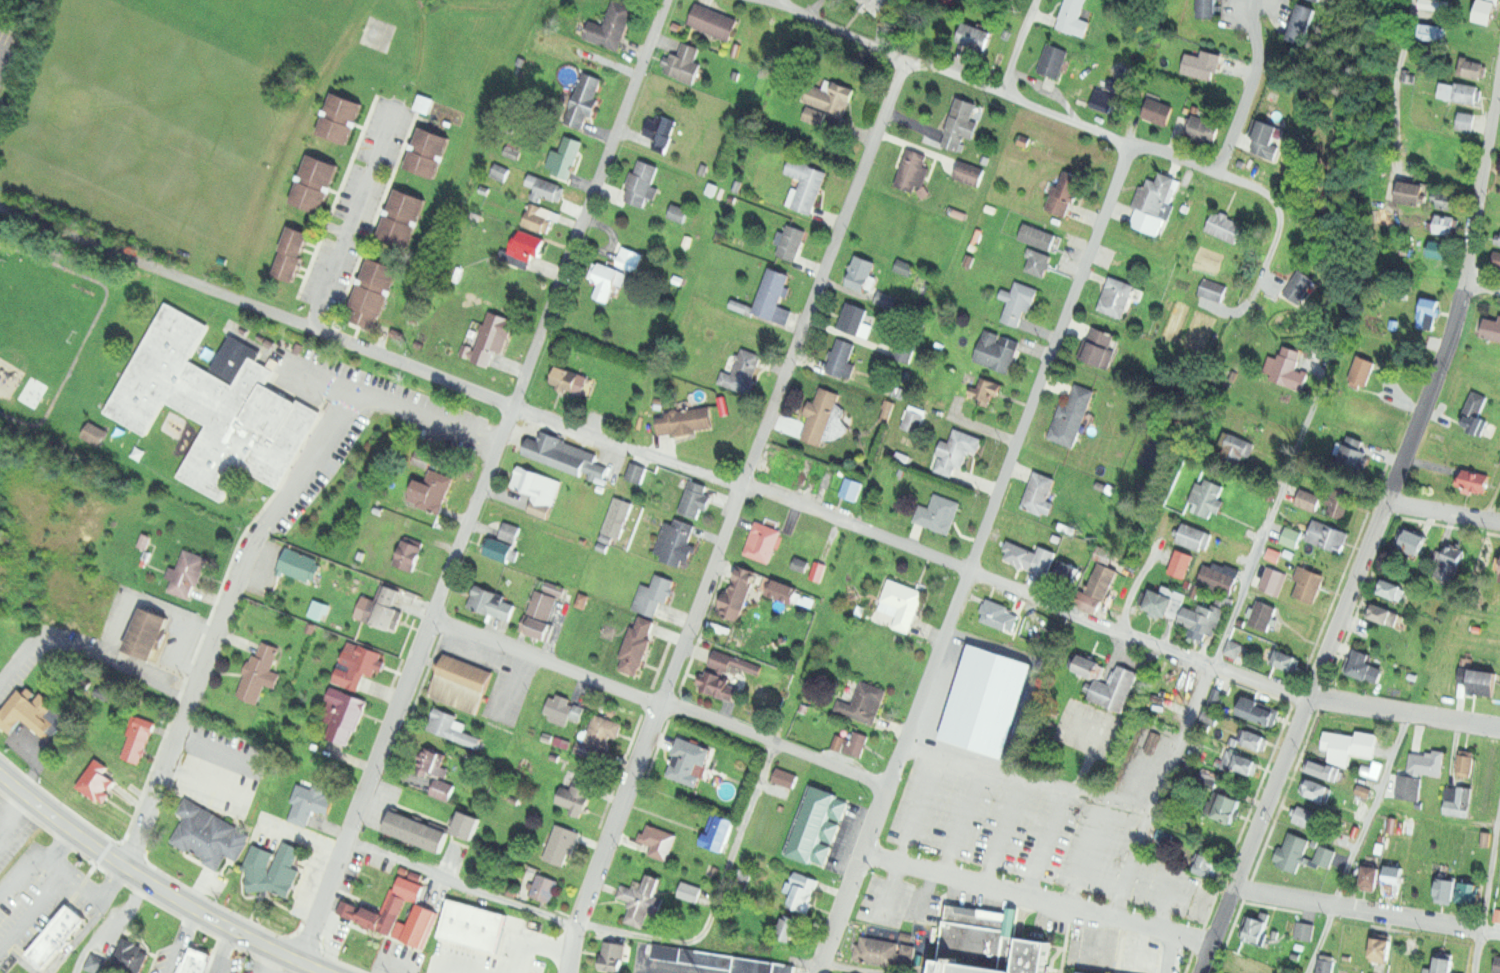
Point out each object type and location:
building: (1321, 0)
building: (1002, 1)
building: (1434, 4)
building: (876, 5)
building: (1207, 8)
building: (1486, 10)
building: (1073, 17)
building: (714, 19)
building: (1304, 23)
building: (610, 24)
building: (1430, 30)
building: (976, 35)
road: (1016, 46)
road: (2, 47)
parking lot: (6, 49)
building: (1052, 60)
building: (684, 63)
building: (1203, 66)
building: (1470, 67)
road: (1393, 77)
building: (1464, 91)
road: (1248, 94)
building: (830, 96)
building: (1102, 98)
building: (583, 99)
road: (1024, 102)
building: (424, 105)
building: (1159, 110)
building: (815, 114)
building: (340, 118)
building: (1464, 120)
building: (960, 122)
building: (1207, 128)
building: (661, 130)
building: (1267, 138)
building: (427, 153)
building: (566, 157)
building: (910, 170)
building: (968, 172)
building: (805, 182)
building: (642, 183)
building: (315, 185)
building: (543, 186)
building: (1410, 191)
building: (1065, 193)
building: (1445, 200)
building: (1155, 201)
building: (569, 209)
building: (677, 212)
road: (352, 216)
building: (536, 217)
building: (402, 219)
building: (1444, 224)
building: (1227, 227)
building: (1037, 235)
building: (1498, 239)
building: (791, 242)
building: (526, 247)
building: (1439, 247)
building: (291, 254)
building: (629, 258)
building: (1496, 259)
building: (801, 261)
building: (1037, 262)
building: (905, 267)
building: (861, 272)
building: (606, 280)
road: (1483, 287)
building: (1300, 288)
building: (1213, 289)
building: (772, 295)
building: (373, 296)
building: (1116, 296)
building: (885, 298)
building: (1017, 300)
road: (256, 306)
building: (1429, 311)
building: (854, 318)
building: (1491, 328)
building: (493, 335)
building: (1103, 347)
building: (996, 350)
building: (1315, 351)
building: (841, 357)
building: (1361, 366)
building: (1287, 369)
building: (741, 372)
building: (569, 378)
building: (984, 389)
building: (211, 401)
road: (389, 401)
building: (1472, 407)
building: (885, 411)
building: (818, 415)
building: (1073, 416)
building: (912, 418)
road: (1203, 419)
building: (683, 420)
building: (97, 435)
road: (628, 445)
building: (1236, 446)
building: (956, 450)
building: (558, 453)
building: (1353, 457)
building: (423, 458)
building: (635, 471)
building: (1471, 480)
road: (484, 482)
building: (849, 487)
building: (536, 488)
building: (431, 491)
building: (1038, 492)
building: (1206, 497)
building: (1309, 499)
road: (1492, 500)
building: (1341, 501)
building: (693, 502)
road: (1443, 512)
building: (938, 513)
road: (731, 514)
building: (617, 516)
road: (1266, 523)
road: (1377, 526)
building: (509, 531)
building: (1327, 535)
building: (1192, 536)
building: (1292, 536)
building: (673, 540)
building: (762, 540)
building: (1414, 540)
building: (497, 549)
building: (409, 555)
building: (1021, 555)
building: (1273, 555)
road: (972, 558)
building: (1448, 560)
building: (1181, 562)
building: (302, 564)
building: (799, 564)
road: (951, 564)
building: (340, 568)
building: (1067, 573)
building: (187, 574)
building: (1218, 577)
building: (1102, 578)
building: (1273, 580)
building: (1309, 582)
building: (555, 587)
building: (1392, 588)
building: (783, 590)
building: (652, 594)
building: (738, 594)
building: (581, 600)
building: (491, 602)
building: (903, 602)
building: (1159, 602)
building: (385, 606)
building: (319, 610)
building: (1386, 613)
building: (1263, 614)
building: (539, 615)
building: (996, 615)
road: (221, 618)
building: (1199, 620)
building: (148, 633)
building: (637, 645)
building: (1234, 649)
road: (90, 655)
building: (720, 659)
building: (1289, 659)
road: (544, 662)
building: (356, 664)
building: (1360, 664)
building: (746, 665)
building: (1087, 666)
building: (262, 673)
parking lot: (495, 678)
building: (1478, 680)
building: (461, 683)
road: (509, 684)
building: (714, 685)
building: (1114, 688)
building: (1215, 699)
road: (1326, 700)
building: (864, 703)
building: (559, 706)
building: (1261, 711)
building: (26, 712)
building: (345, 713)
building: (452, 729)
building: (600, 730)
building: (137, 737)
building: (1251, 737)
building: (1152, 740)
road: (773, 742)
building: (858, 743)
building: (1350, 745)
building: (586, 748)
building: (554, 756)
road: (1086, 761)
building: (689, 762)
building: (1242, 762)
building: (1464, 762)
building: (1487, 762)
building: (1428, 763)
road: (949, 766)
building: (1322, 769)
parking lot: (220, 770)
building: (435, 772)
building: (785, 777)
building: (98, 783)
building: (1409, 788)
building: (1315, 789)
road: (1157, 790)
building: (577, 793)
road: (1113, 797)
building: (1458, 801)
building: (306, 802)
building: (1227, 807)
building: (1308, 818)
road: (957, 823)
building: (814, 824)
parking lot: (1038, 829)
building: (719, 833)
building: (208, 834)
road: (1003, 834)
building: (659, 840)
road: (1357, 842)
building: (559, 844)
road: (1041, 844)
building: (1302, 853)
road: (1084, 859)
building: (257, 861)
building: (1208, 865)
building: (283, 869)
building: (415, 874)
building: (1371, 878)
road: (142, 879)
building: (1393, 880)
building: (544, 887)
road: (1486, 889)
parking lot: (40, 890)
building: (689, 891)
building: (1446, 891)
building: (1467, 894)
road: (714, 897)
building: (801, 898)
road: (1036, 898)
parking lot: (885, 899)
building: (640, 900)
road: (1165, 903)
road: (1366, 910)
building: (368, 916)
building: (1497, 916)
building: (474, 928)
building: (1254, 928)
building: (791, 929)
building: (1304, 930)
building: (56, 938)
road: (1065, 940)
building: (983, 941)
road: (546, 945)
building: (1381, 949)
parking lot: (526, 950)
building: (881, 951)
road: (1170, 954)
building: (127, 955)
road: (518, 956)
building: (612, 956)
building: (721, 960)
building: (194, 964)
building: (1497, 964)
building: (95, 965)
building: (1441, 965)
building: (1326, 966)
road: (311, 967)
road: (437, 969)
road: (453, 969)
parking lot: (650, 970)
road: (650, 970)
building: (1083, 972)

